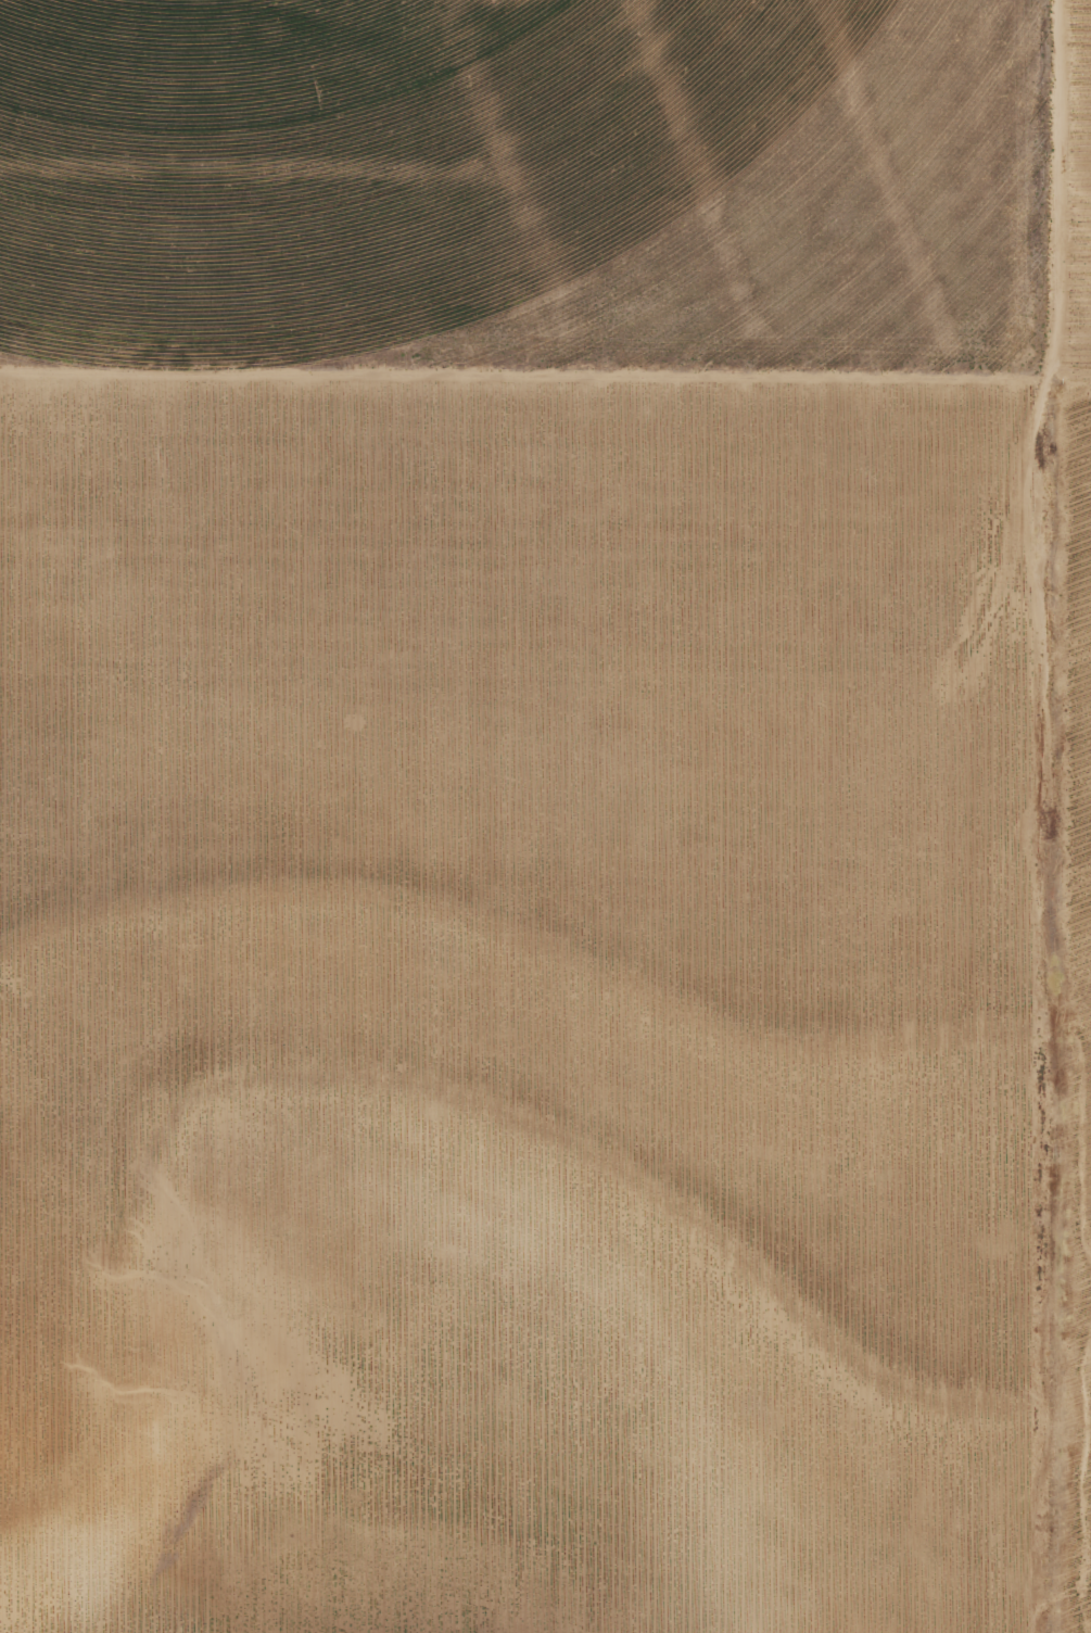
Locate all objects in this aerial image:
road: (1016, 815)

